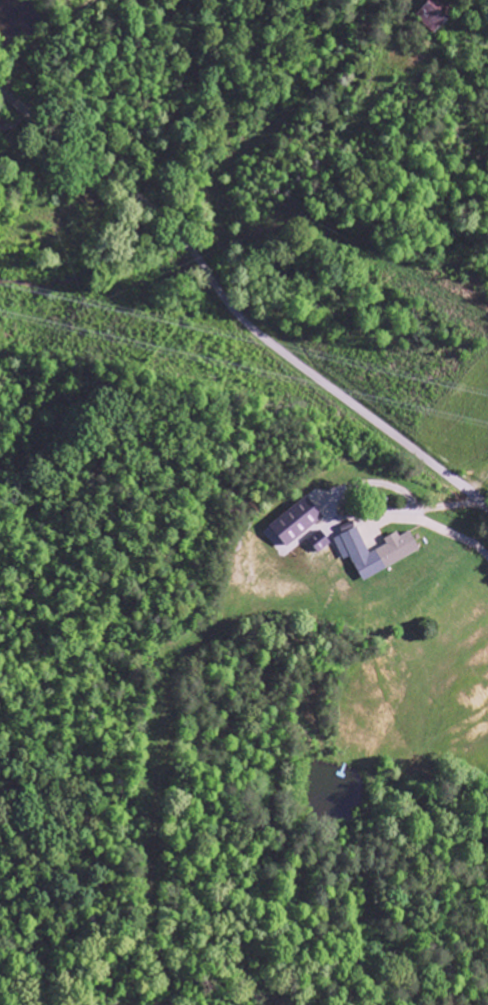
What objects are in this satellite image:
building: (433, 15)
road: (290, 129)
road: (234, 309)
building: (299, 521)
building: (376, 551)

